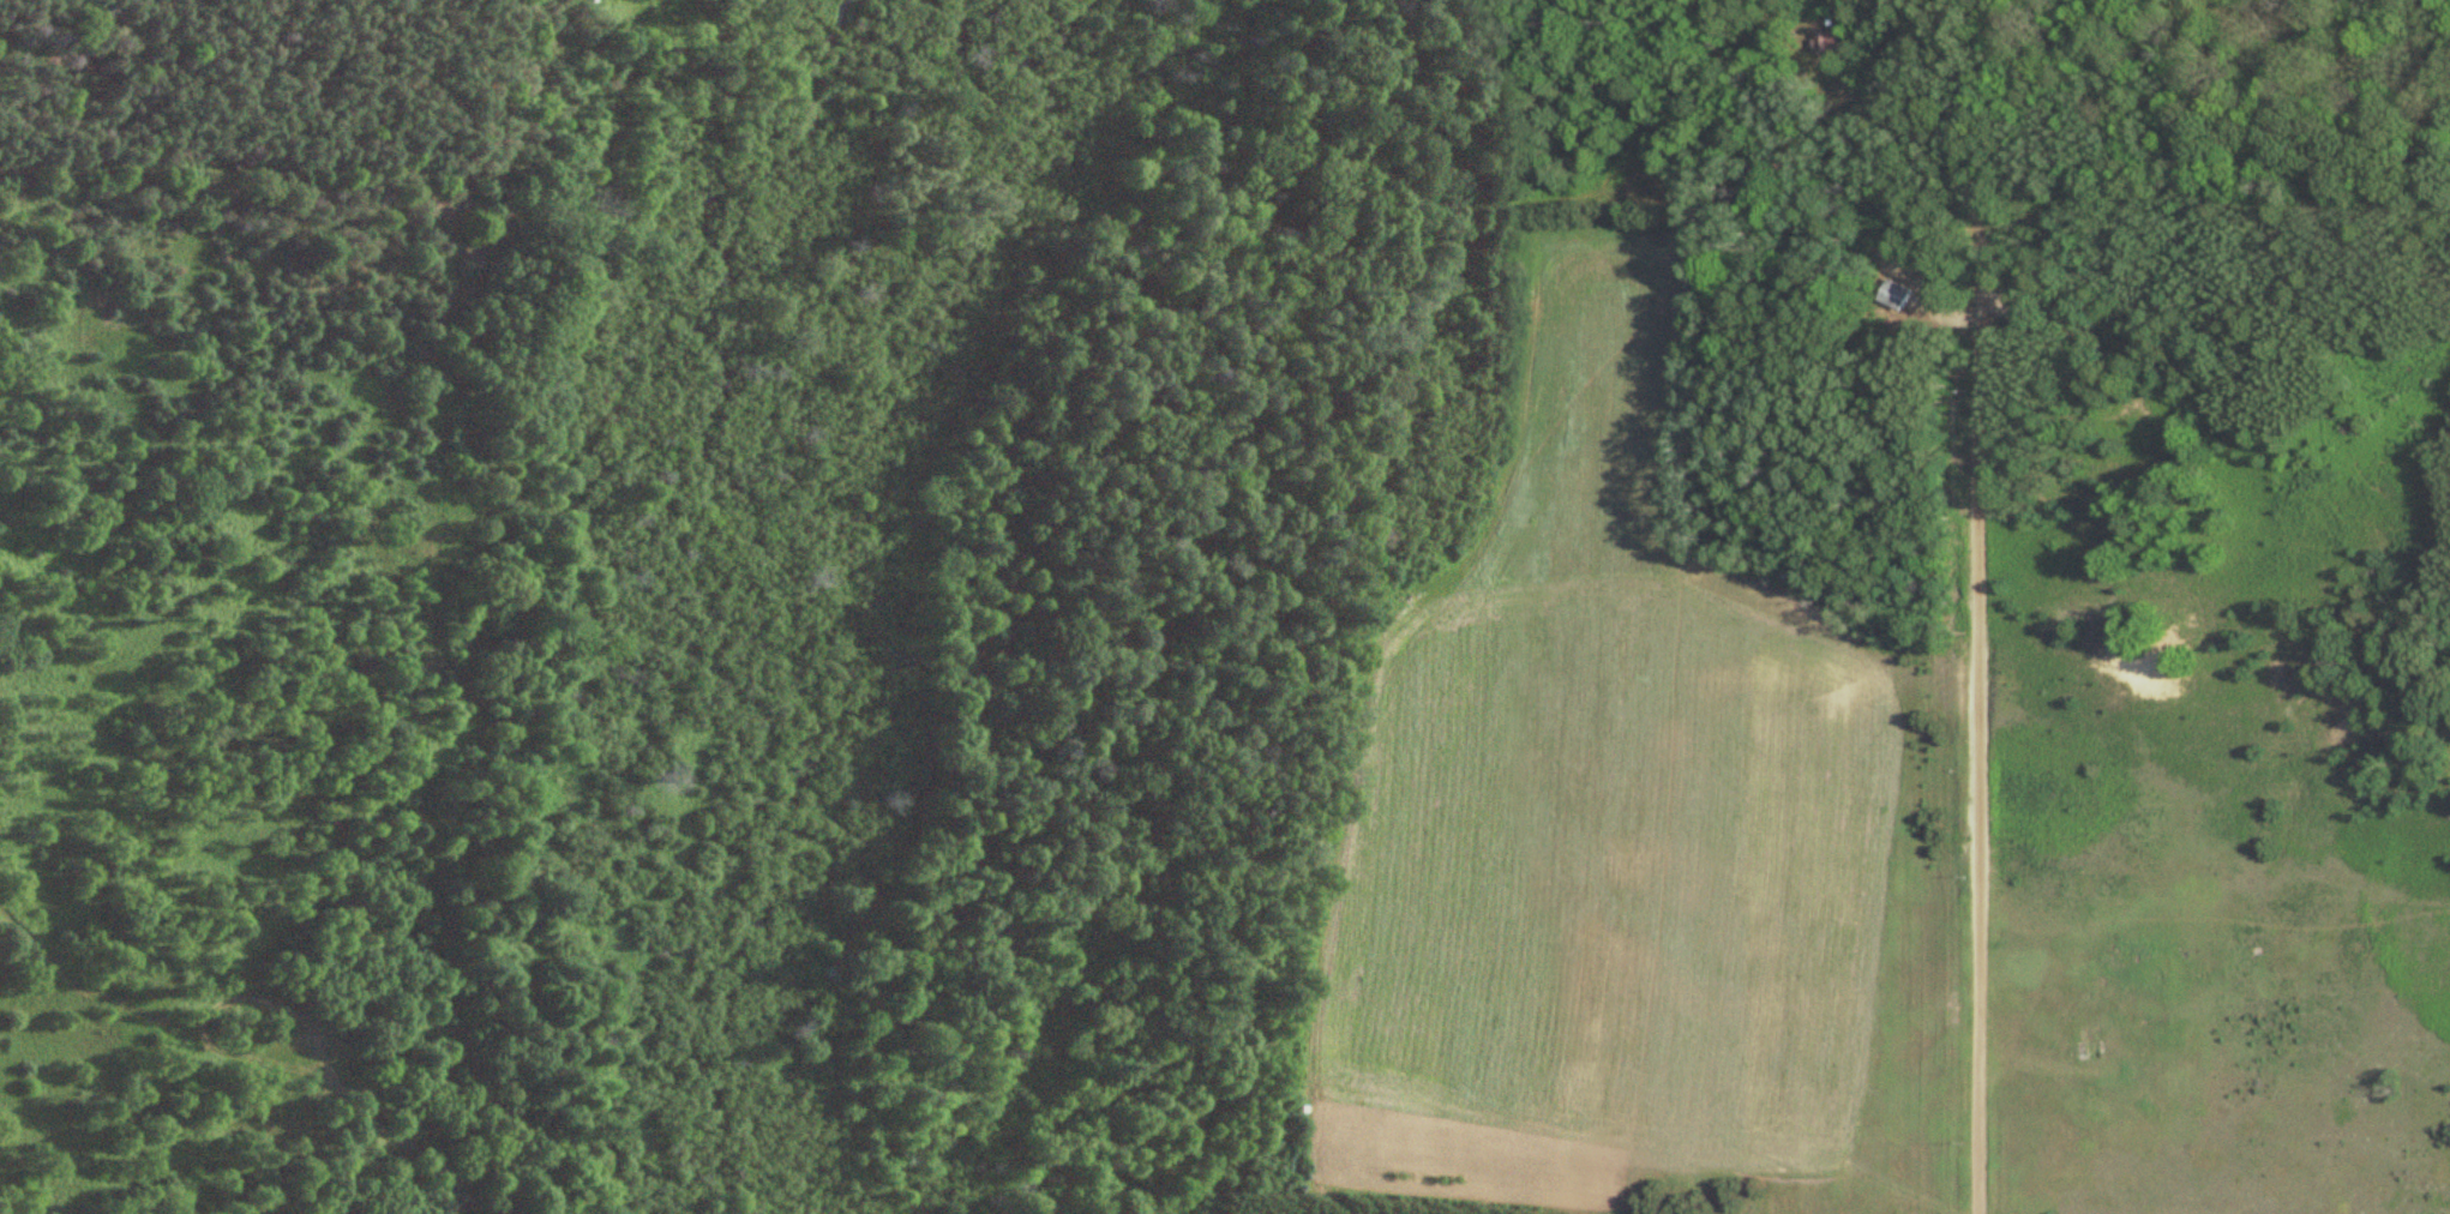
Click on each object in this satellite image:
building: (1826, 42)
building: (1892, 296)
road: (1975, 660)

